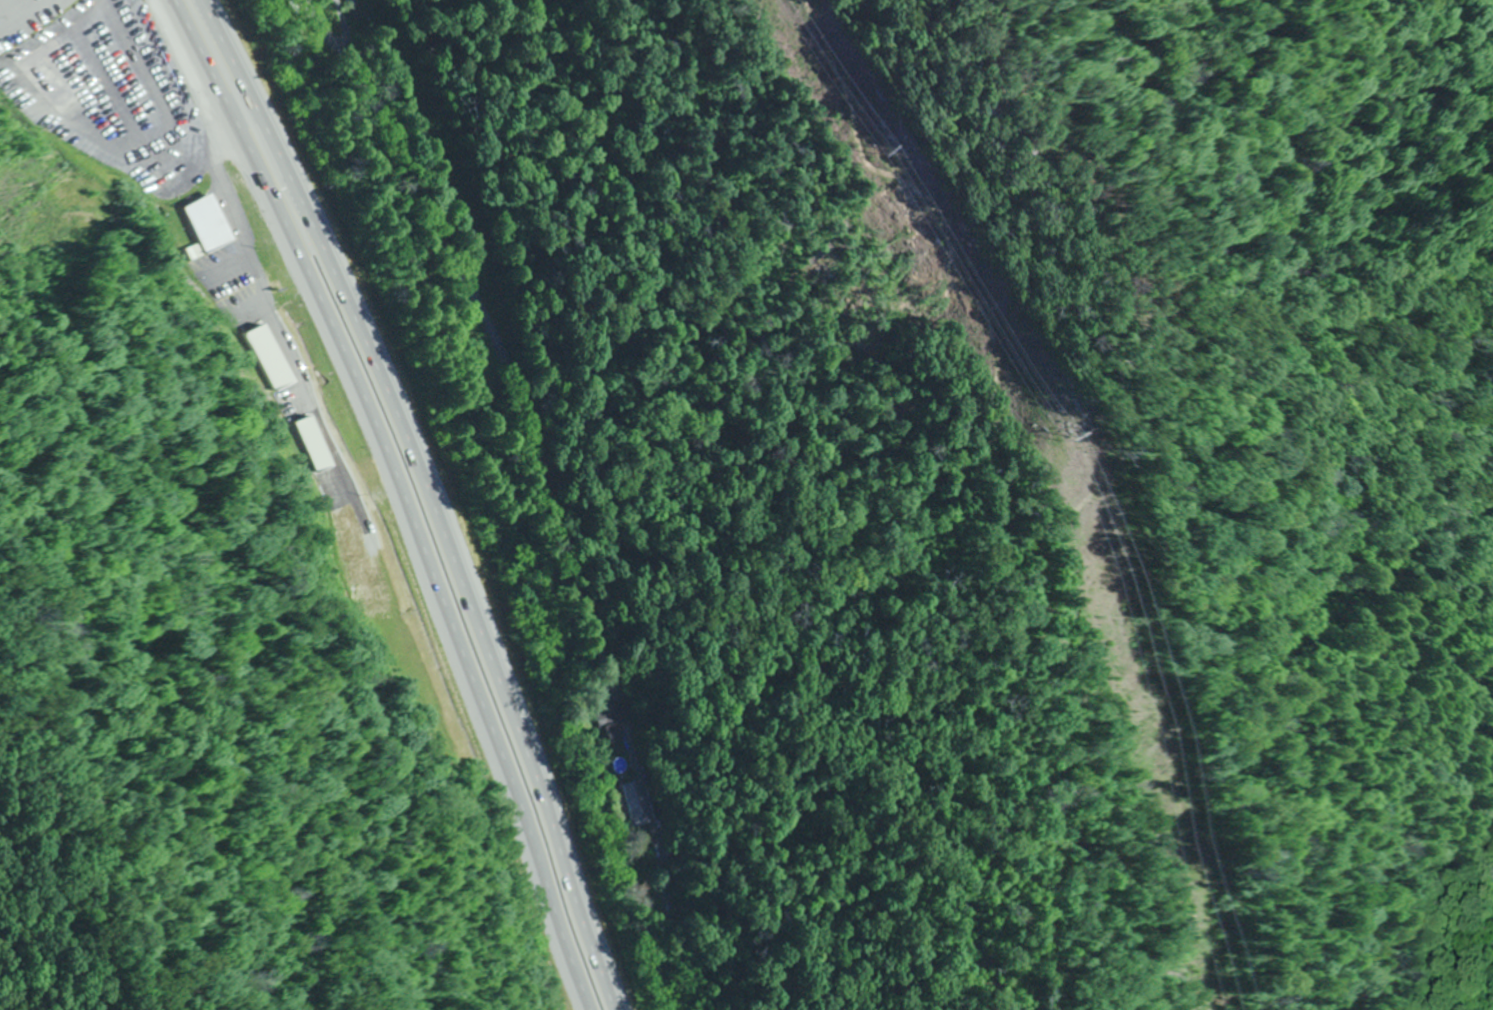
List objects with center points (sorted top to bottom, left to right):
building: (57, 76)
building: (204, 224)
road: (500, 374)
road: (398, 497)
road: (431, 497)
building: (609, 724)
building: (637, 804)

